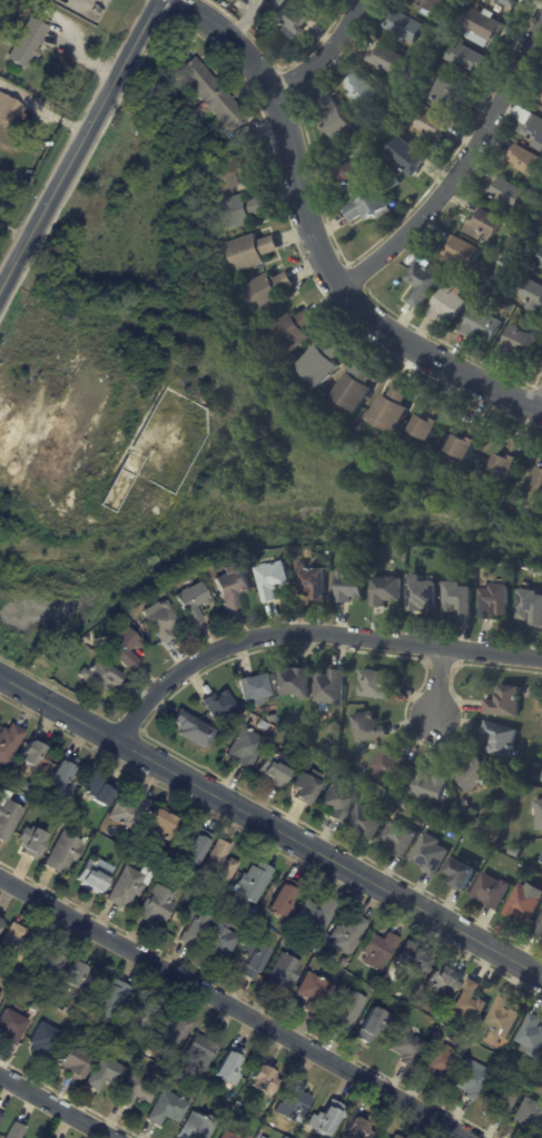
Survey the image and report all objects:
building: (323, 0)
building: (276, 2)
building: (509, 2)
building: (432, 4)
road: (244, 19)
building: (293, 20)
building: (404, 26)
building: (484, 27)
building: (9, 39)
building: (28, 43)
road: (66, 49)
building: (180, 51)
road: (329, 53)
building: (386, 58)
building: (467, 58)
building: (428, 67)
building: (406, 89)
building: (445, 90)
building: (362, 91)
building: (211, 94)
building: (541, 100)
road: (47, 105)
building: (10, 110)
building: (400, 110)
building: (337, 119)
building: (401, 124)
building: (433, 125)
building: (534, 130)
building: (246, 135)
road: (83, 149)
building: (362, 150)
building: (407, 156)
building: (526, 160)
building: (231, 173)
building: (354, 173)
road: (462, 173)
building: (507, 192)
building: (2, 193)
building: (536, 199)
building: (371, 207)
building: (242, 210)
building: (483, 224)
road: (319, 238)
building: (253, 252)
building: (461, 254)
building: (539, 258)
building: (502, 263)
building: (512, 269)
building: (423, 284)
building: (269, 291)
building: (533, 292)
building: (447, 304)
building: (506, 306)
building: (482, 325)
building: (294, 331)
building: (520, 344)
building: (323, 362)
building: (356, 386)
building: (392, 409)
building: (431, 422)
building: (467, 442)
building: (511, 461)
building: (540, 479)
building: (269, 579)
building: (308, 581)
building: (347, 586)
building: (230, 588)
building: (383, 589)
building: (418, 593)
building: (454, 598)
building: (190, 601)
building: (492, 601)
building: (529, 606)
building: (160, 620)
road: (311, 632)
building: (120, 644)
building: (98, 675)
road: (438, 679)
building: (292, 681)
building: (374, 683)
building: (327, 687)
building: (253, 688)
building: (503, 702)
building: (217, 705)
building: (366, 726)
building: (191, 728)
building: (497, 737)
building: (8, 742)
building: (243, 746)
building: (32, 754)
building: (388, 764)
building: (273, 767)
building: (472, 772)
building: (61, 774)
building: (541, 777)
building: (304, 785)
building: (428, 785)
building: (96, 789)
building: (335, 802)
building: (125, 805)
building: (538, 813)
building: (7, 815)
building: (159, 818)
building: (364, 820)
road: (270, 825)
building: (397, 836)
building: (29, 841)
building: (194, 845)
building: (61, 851)
building: (427, 853)
building: (541, 855)
building: (217, 861)
building: (459, 873)
building: (92, 875)
building: (252, 882)
building: (125, 886)
building: (490, 890)
building: (280, 900)
building: (524, 901)
building: (155, 904)
building: (314, 915)
building: (0, 918)
building: (539, 924)
building: (191, 925)
building: (345, 932)
building: (218, 936)
building: (9, 940)
building: (376, 949)
building: (410, 956)
building: (250, 959)
building: (49, 963)
building: (282, 971)
building: (71, 975)
building: (441, 978)
building: (313, 987)
building: (108, 999)
building: (467, 1002)
building: (346, 1004)
road: (235, 1008)
building: (139, 1018)
building: (500, 1019)
building: (369, 1024)
building: (10, 1026)
building: (170, 1030)
building: (530, 1034)
building: (42, 1039)
building: (403, 1044)
building: (200, 1050)
building: (433, 1057)
building: (71, 1063)
building: (227, 1066)
building: (101, 1072)
building: (263, 1077)
building: (469, 1079)
building: (131, 1092)
building: (500, 1098)
building: (292, 1101)
road: (55, 1107)
building: (165, 1108)
building: (526, 1114)
building: (0, 1116)
building: (324, 1118)
building: (195, 1126)
building: (354, 1127)
building: (13, 1130)
building: (230, 1135)
building: (384, 1137)

